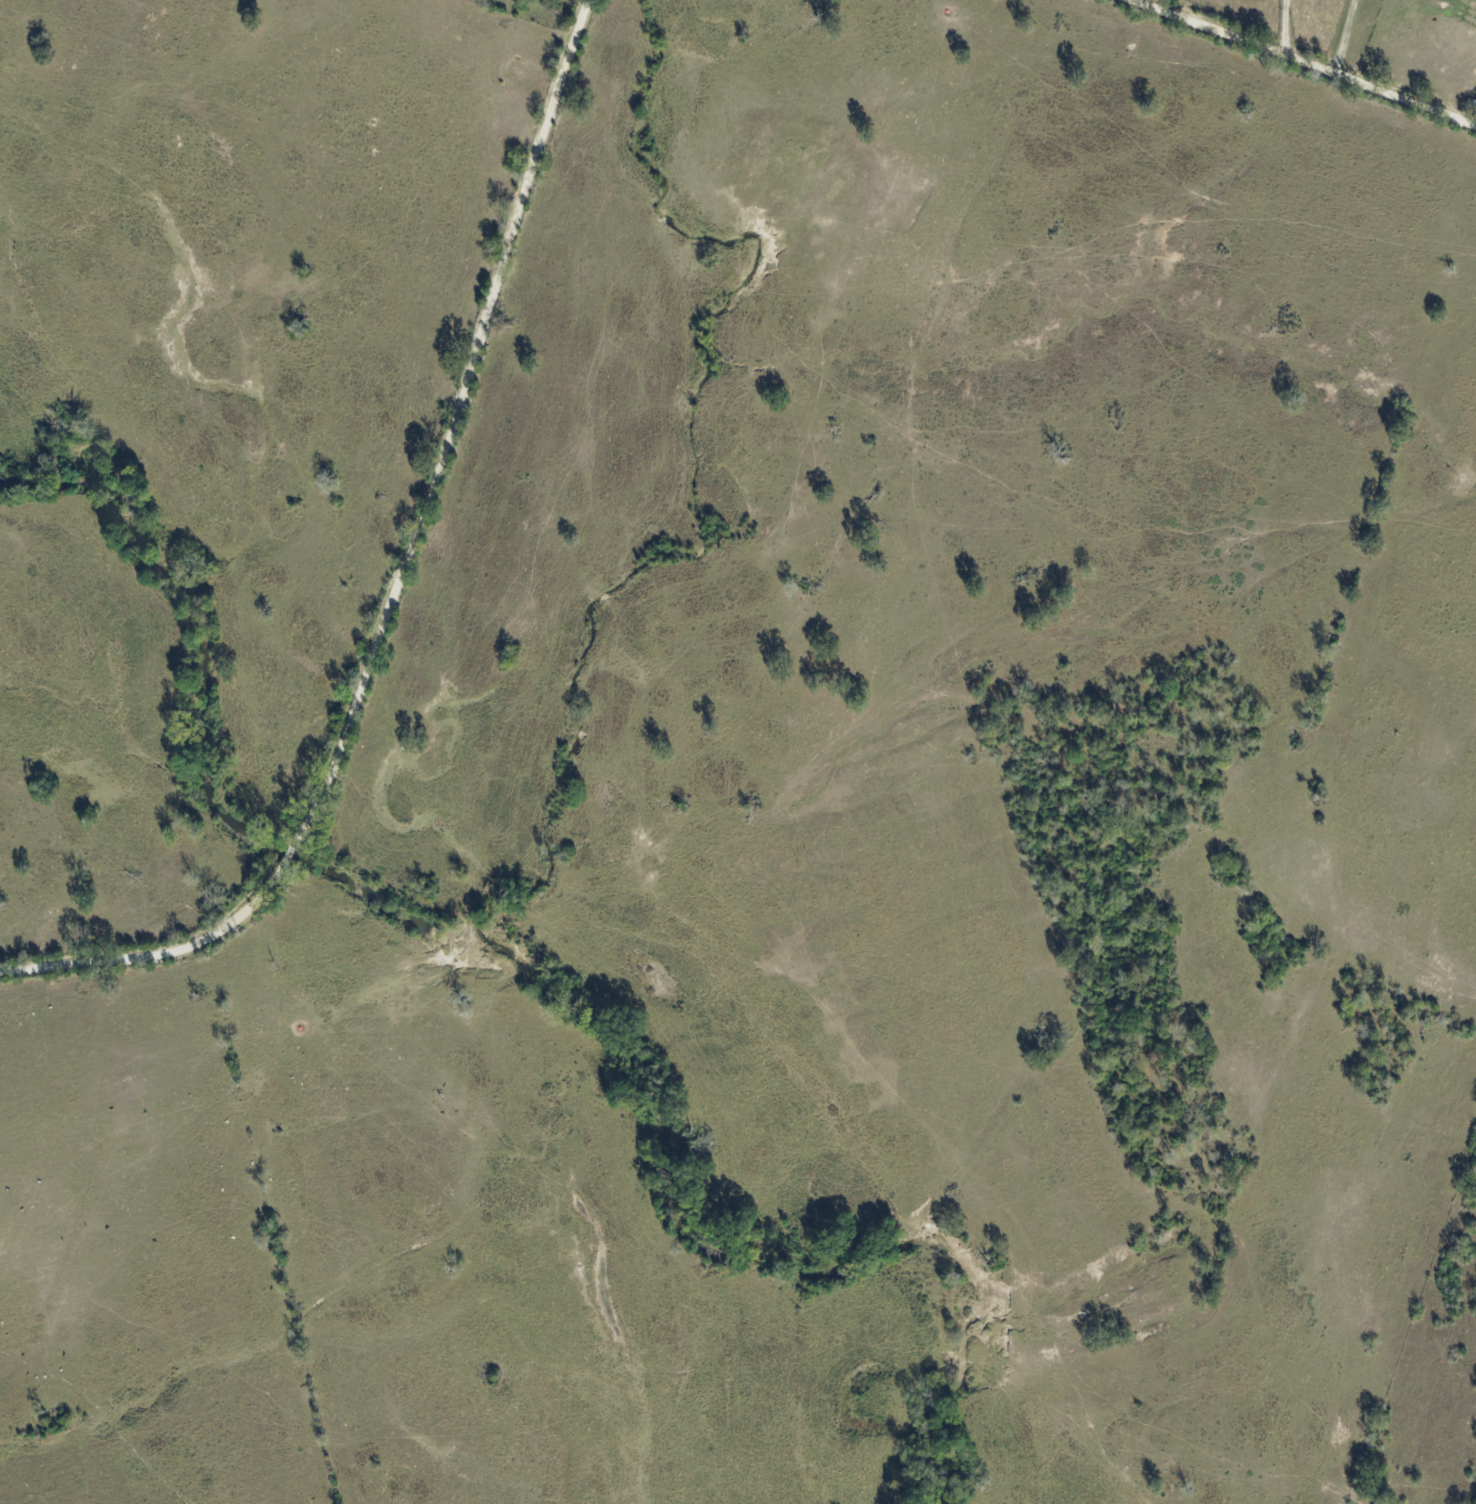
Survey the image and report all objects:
road: (1303, 62)
road: (394, 585)

